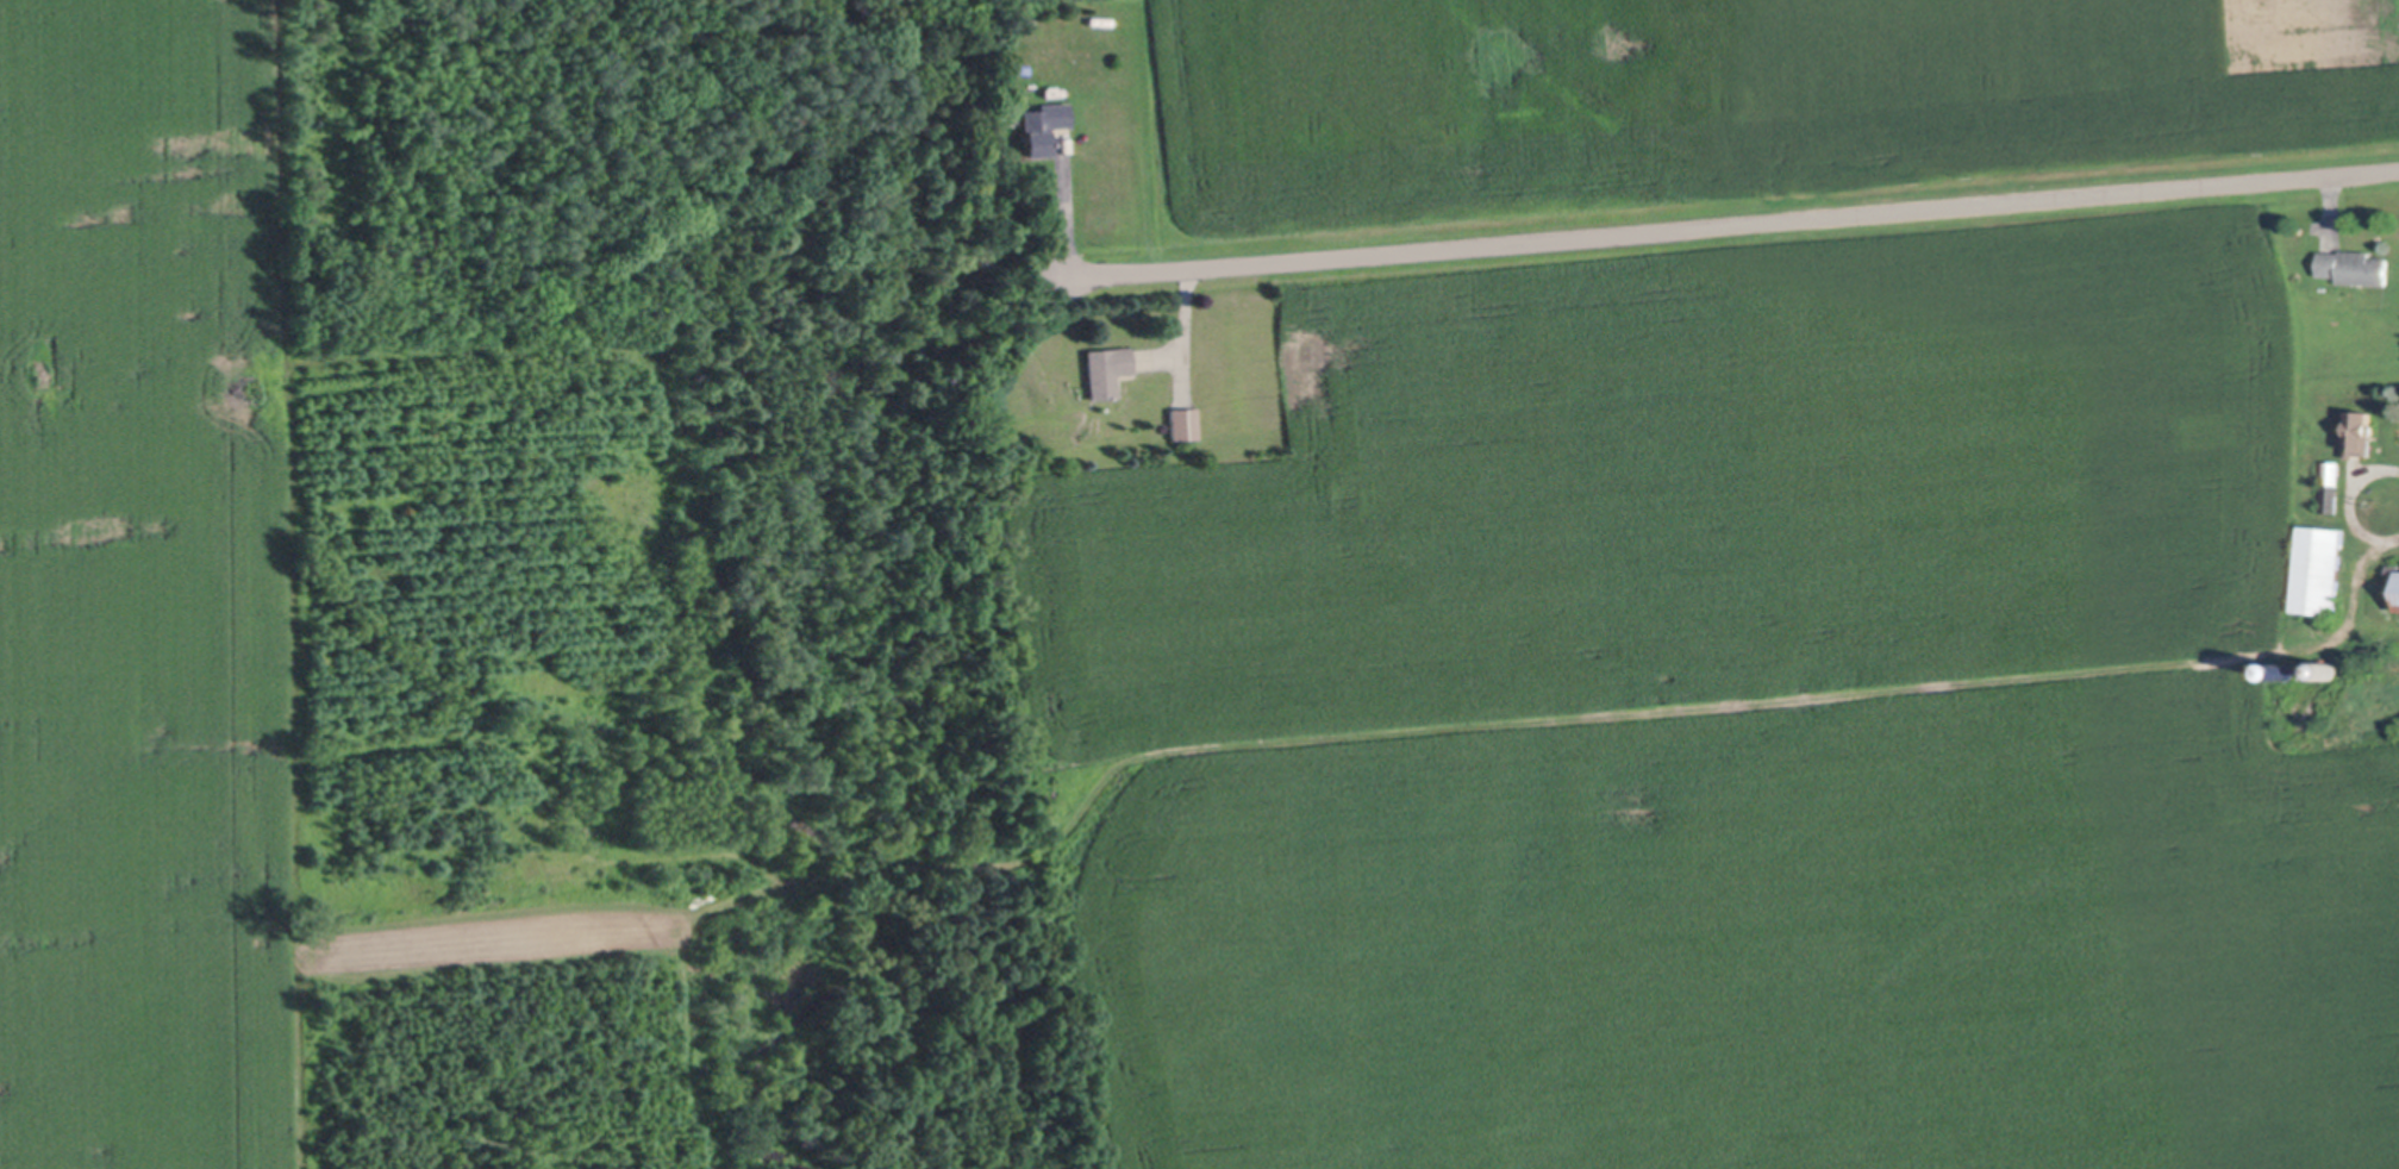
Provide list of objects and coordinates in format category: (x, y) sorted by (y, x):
building: (1008, 19)
crop: (1722, 106)
building: (1042, 125)
road: (1064, 210)
road: (1732, 223)
building: (2355, 265)
building: (1105, 368)
building: (1182, 423)
building: (2362, 431)
building: (2332, 486)
road: (2392, 502)
building: (2320, 569)
crop: (142, 589)
building: (2397, 589)
building: (2289, 669)
building: (2330, 669)

